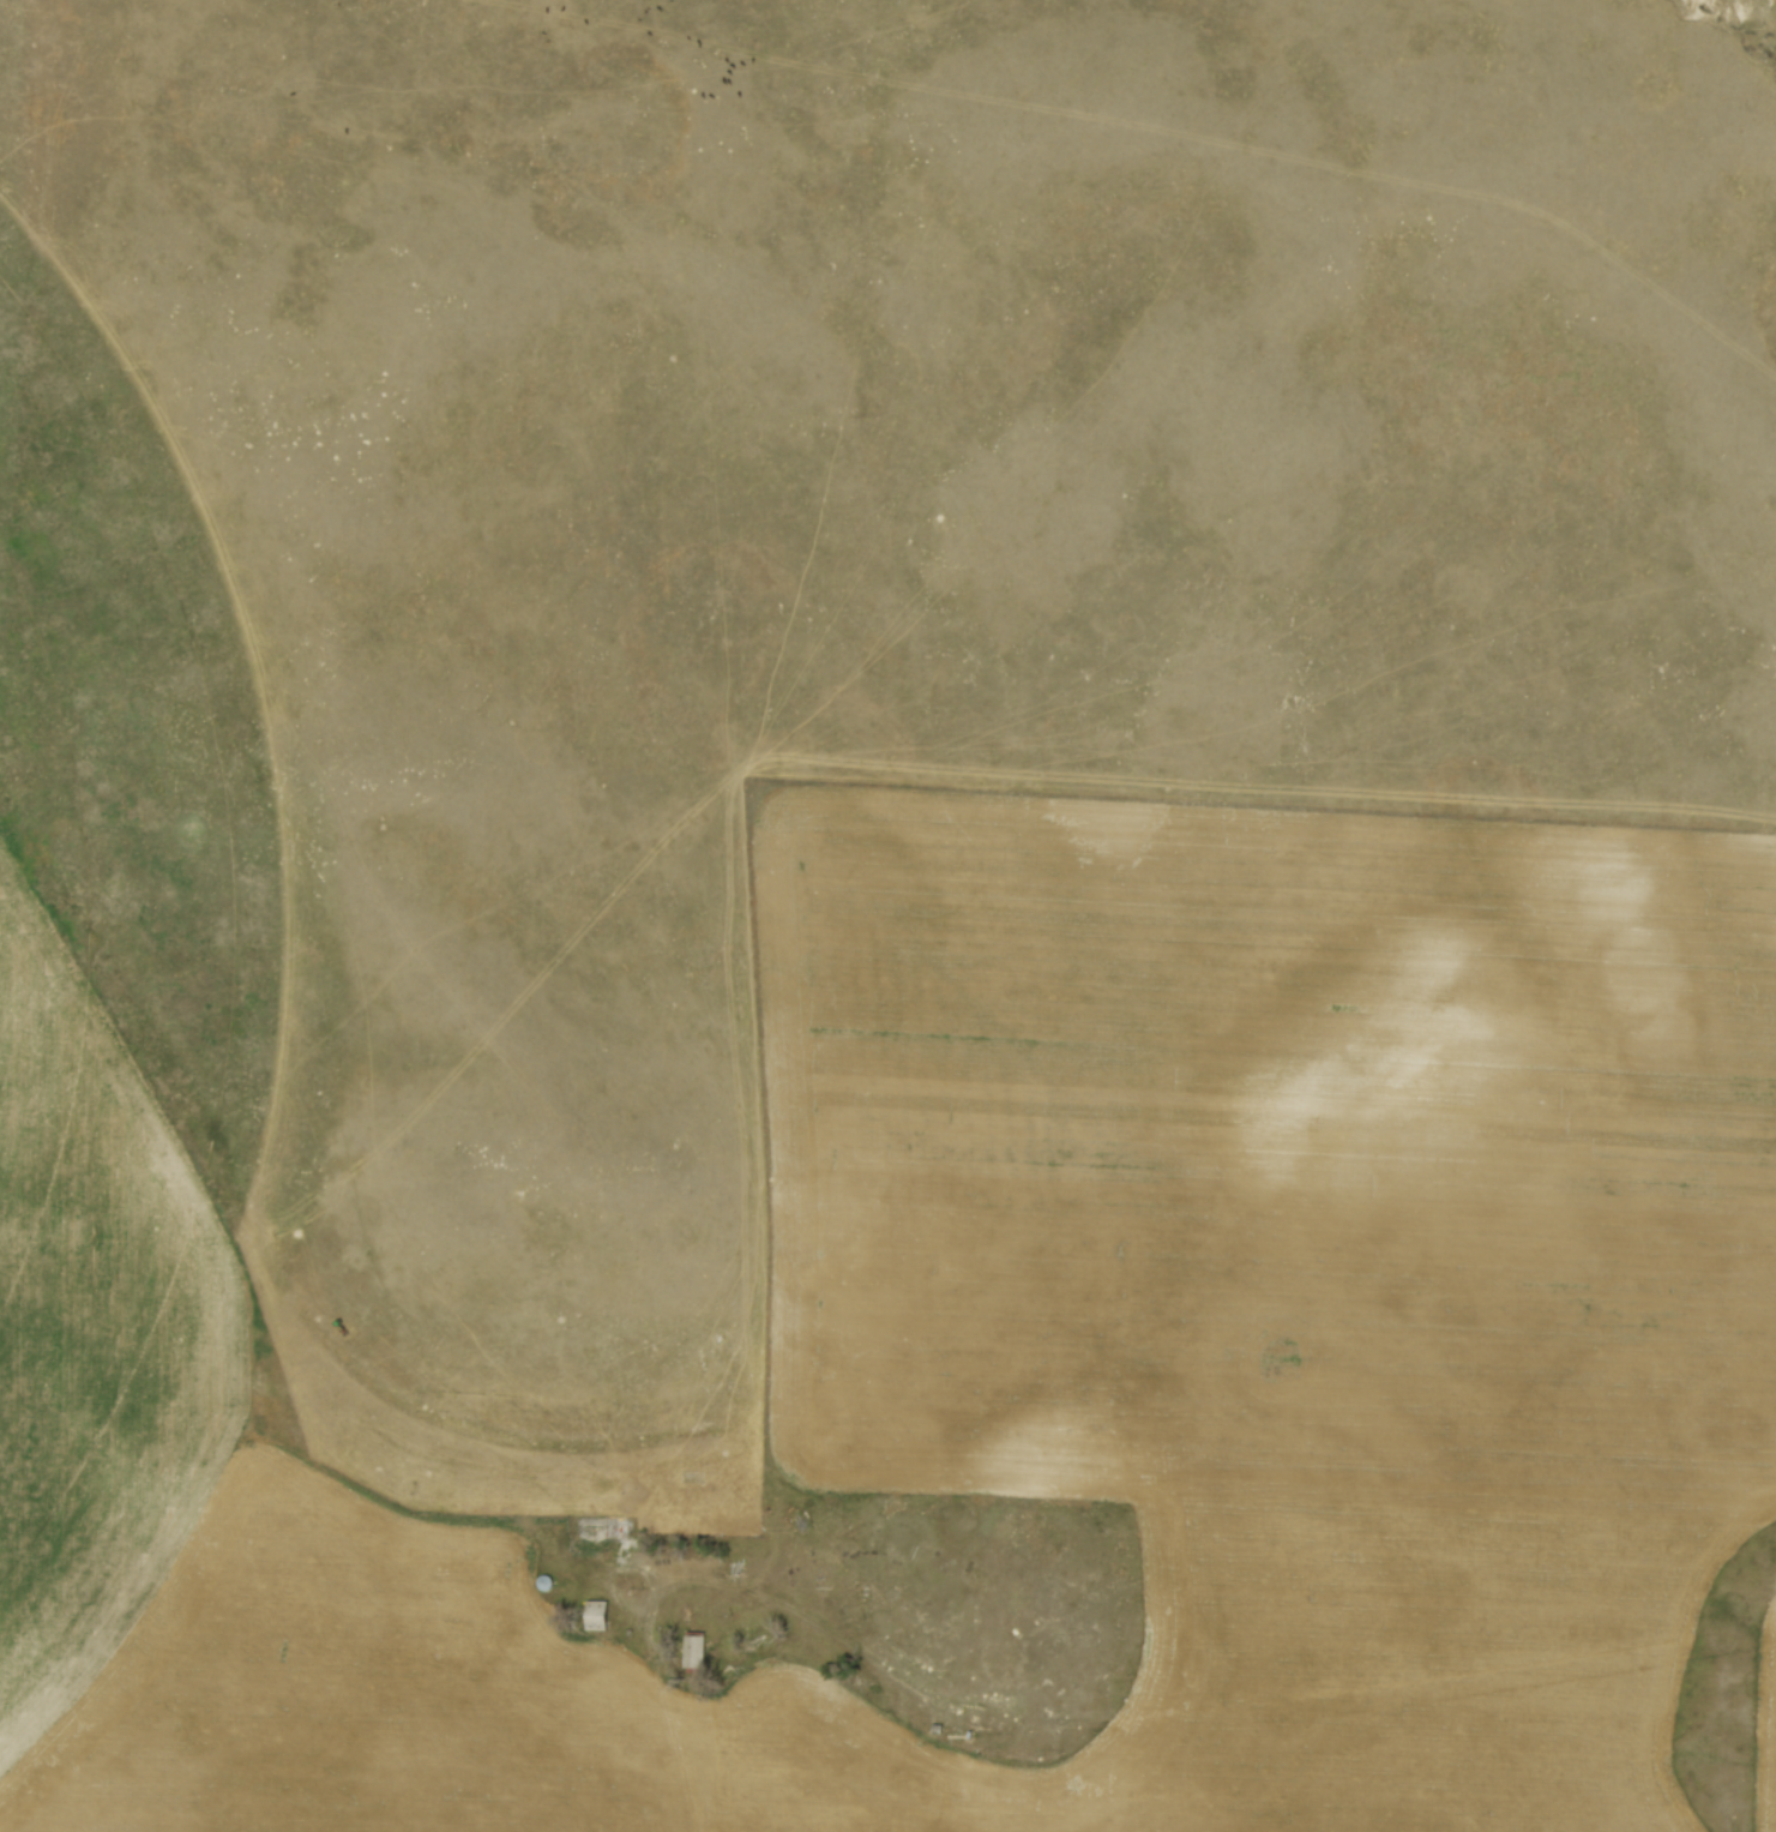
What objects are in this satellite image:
crop: (113, 1035)
building: (597, 1530)
road: (704, 1581)
building: (550, 1585)
silo: (550, 1585)
building: (602, 1617)
building: (698, 1656)

